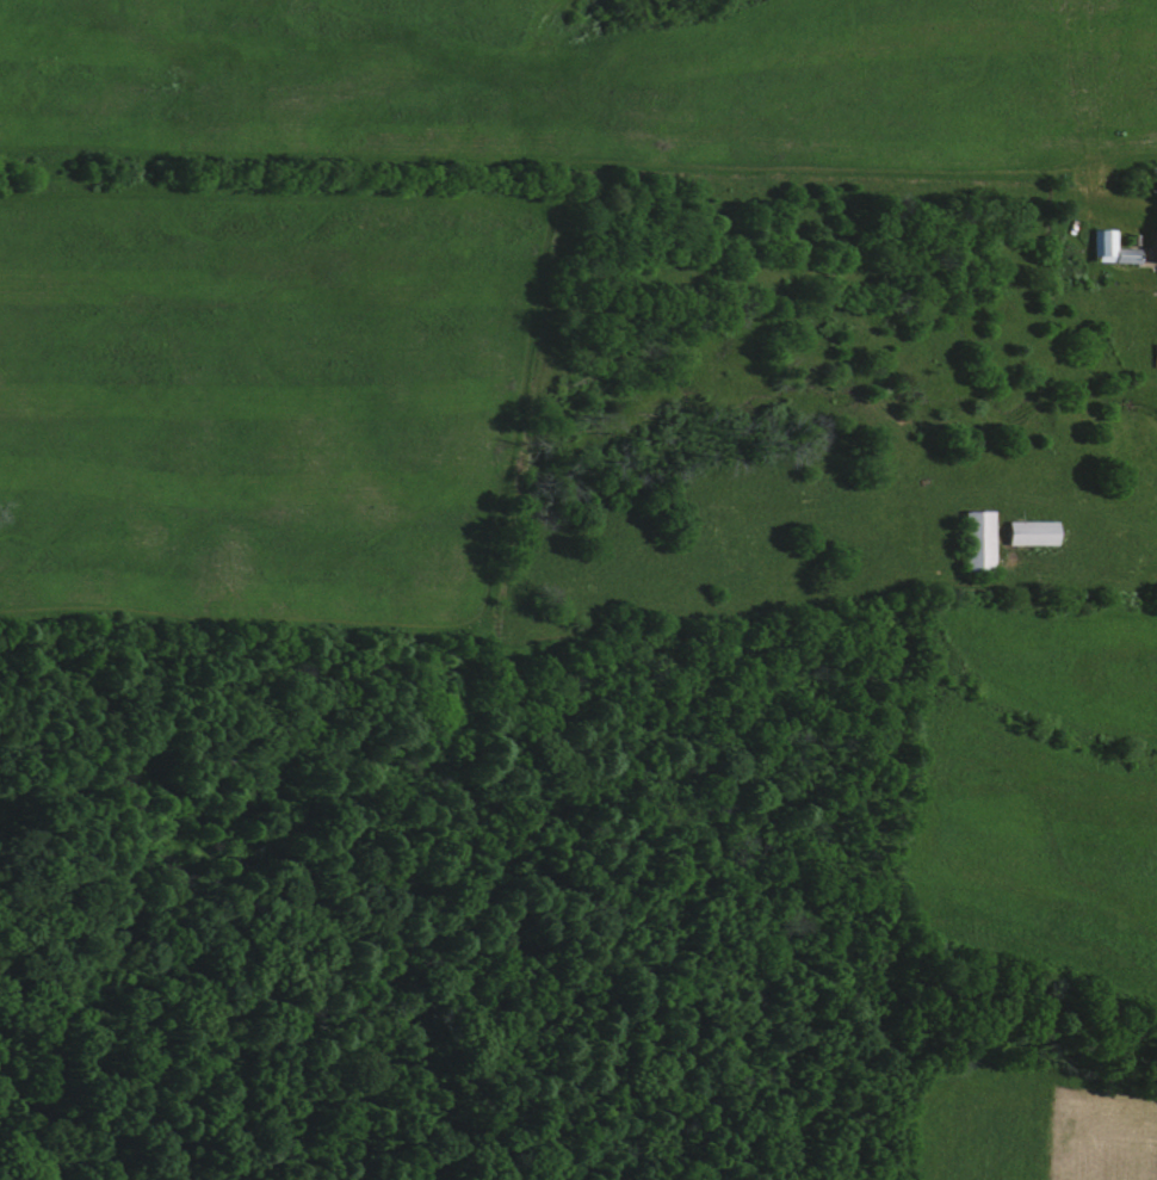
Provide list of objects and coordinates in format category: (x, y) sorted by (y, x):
building: (1102, 246)
building: (1153, 246)
building: (1153, 354)
building: (1028, 532)
building: (976, 539)

